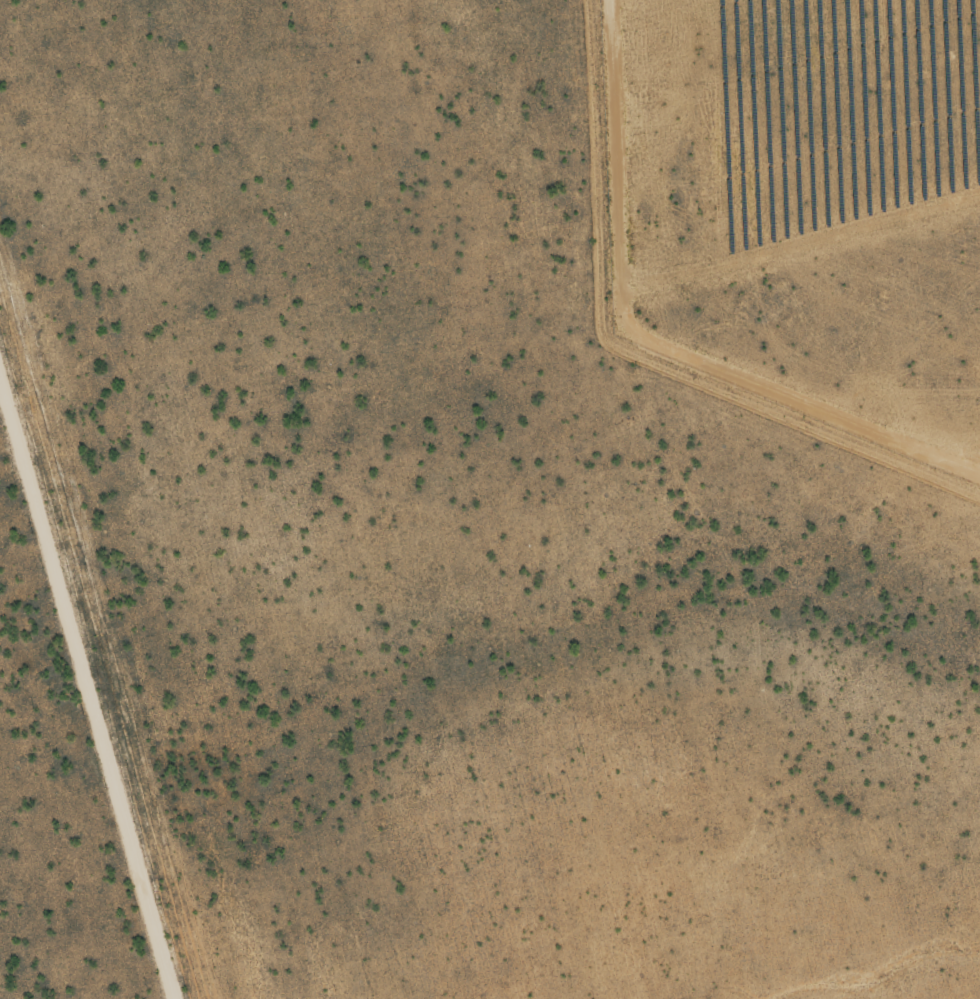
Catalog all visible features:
solar farm: (804, 206)

